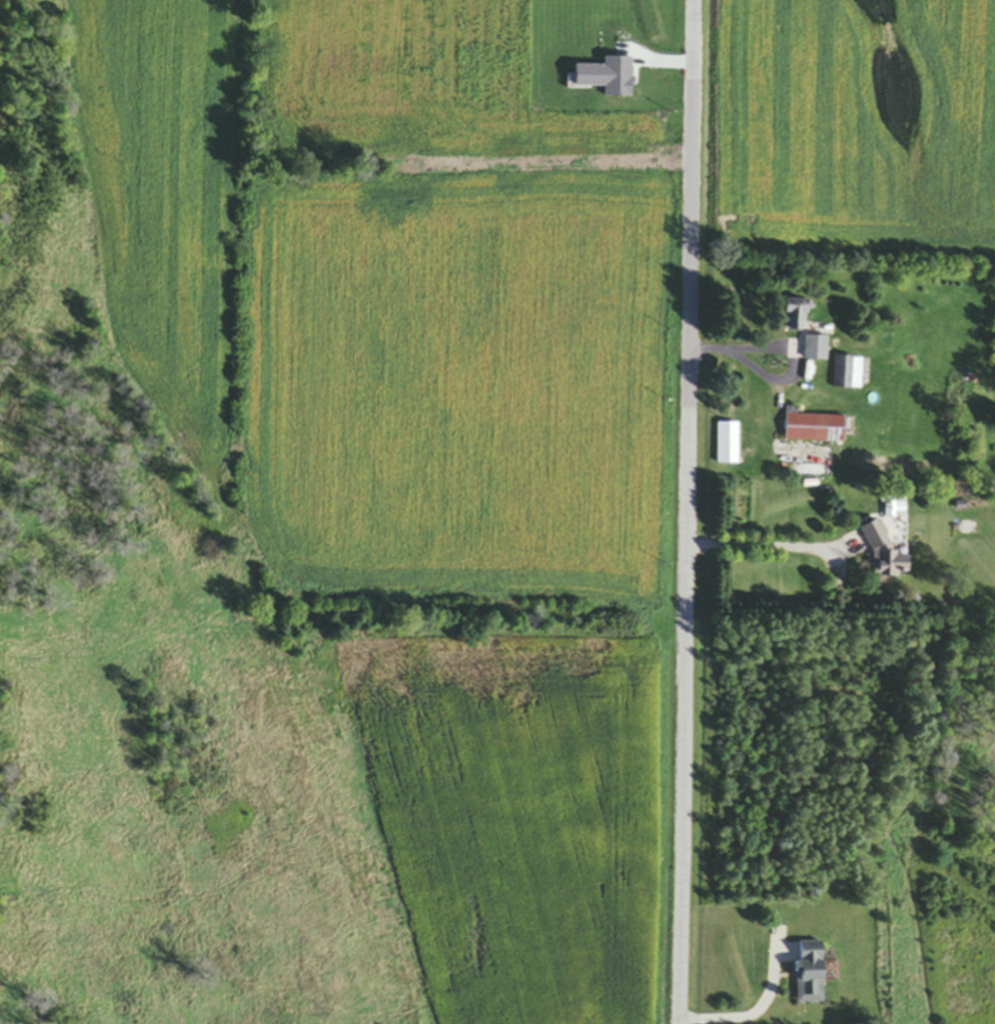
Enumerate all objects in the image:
building: (571, 106)
building: (795, 318)
road: (785, 350)
building: (815, 351)
building: (847, 374)
building: (813, 429)
building: (727, 446)
road: (689, 512)
road: (753, 546)
building: (884, 557)
building: (810, 973)
road: (749, 1013)

